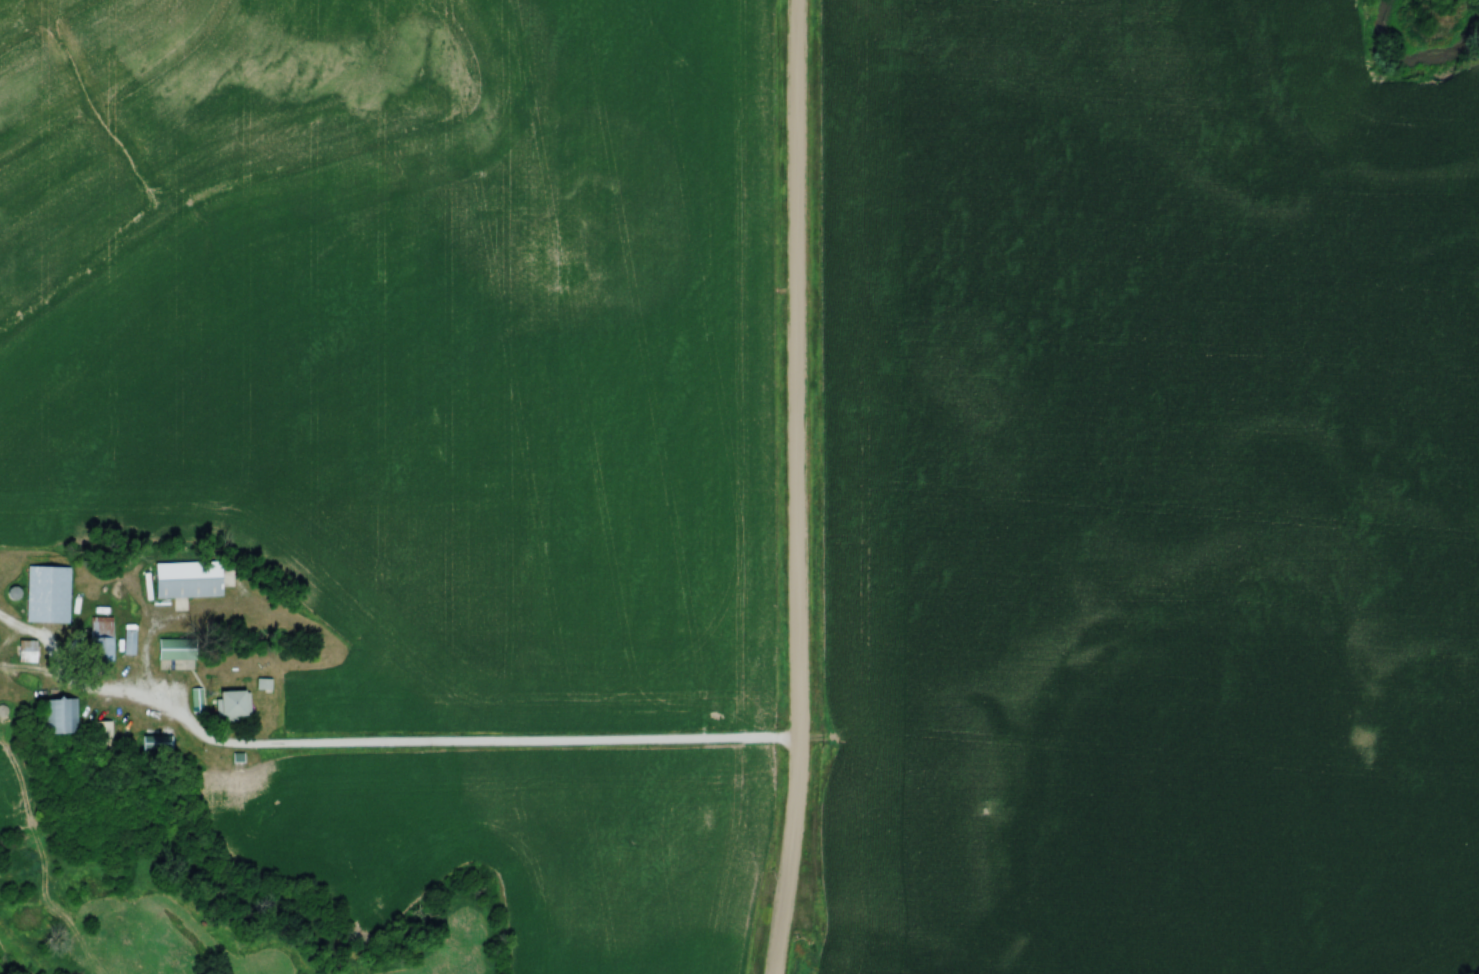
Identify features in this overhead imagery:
river: (1422, 37)
road: (798, 487)
building: (186, 581)
building: (12, 594)
building: (47, 595)
building: (99, 641)
building: (128, 643)
building: (175, 649)
building: (25, 652)
building: (232, 705)
building: (61, 716)
building: (101, 736)
road: (428, 738)
building: (155, 744)

